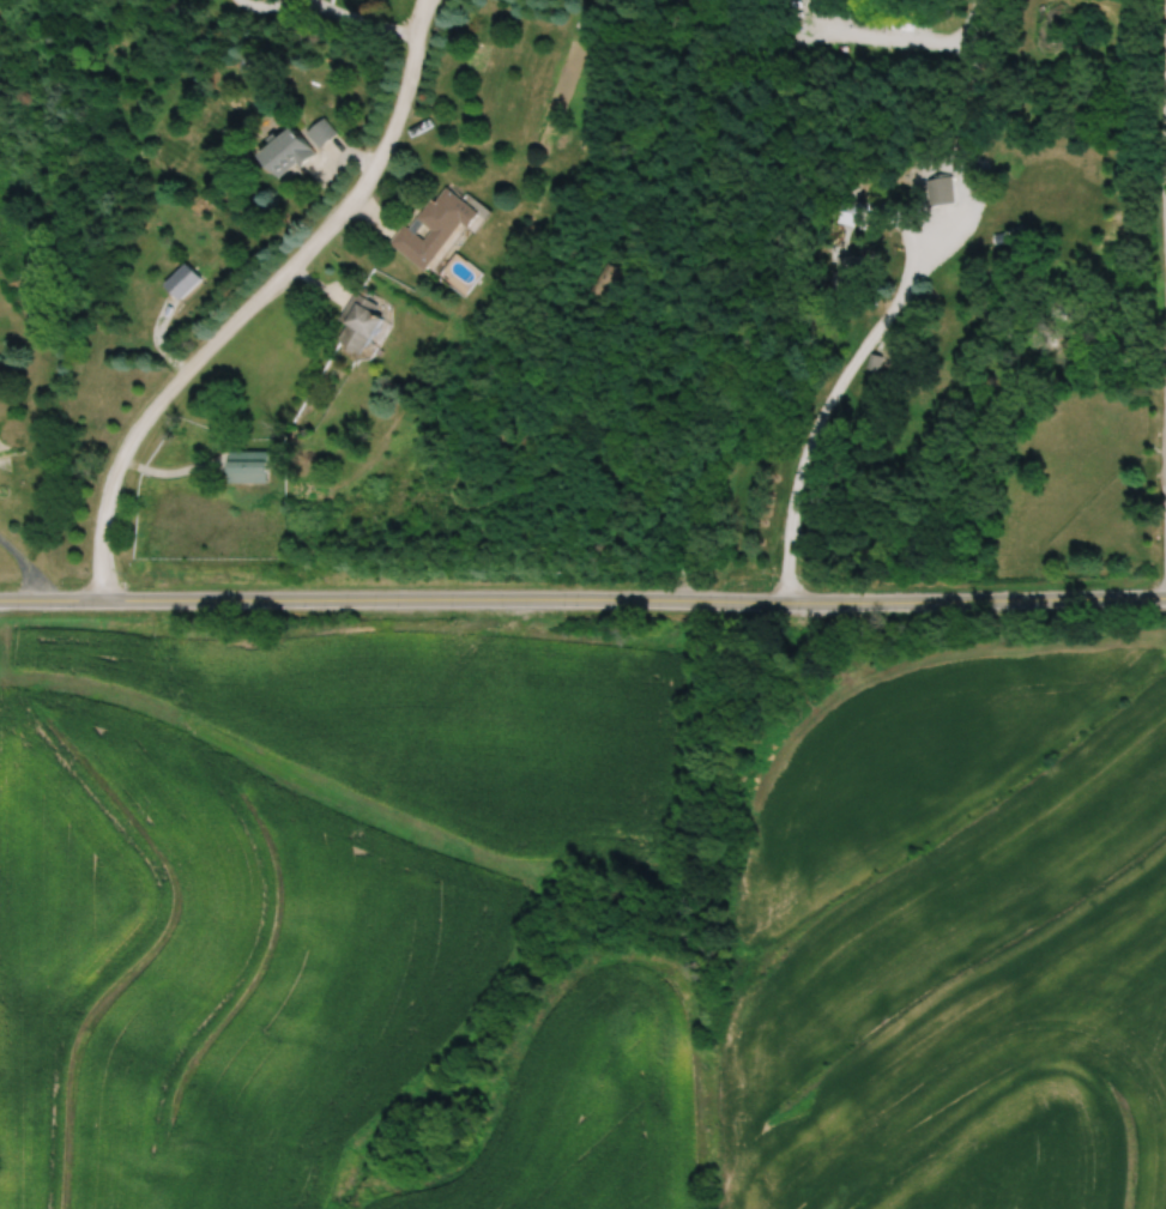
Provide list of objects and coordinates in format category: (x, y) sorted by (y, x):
road: (262, 4)
road: (357, 18)
road: (1164, 113)
building: (320, 132)
building: (286, 152)
building: (938, 189)
building: (842, 208)
building: (436, 228)
building: (998, 235)
building: (846, 273)
building: (182, 279)
building: (598, 280)
road: (260, 298)
building: (361, 324)
road: (832, 395)
building: (248, 464)
road: (22, 564)
road: (582, 599)
crop: (320, 908)
crop: (957, 945)

